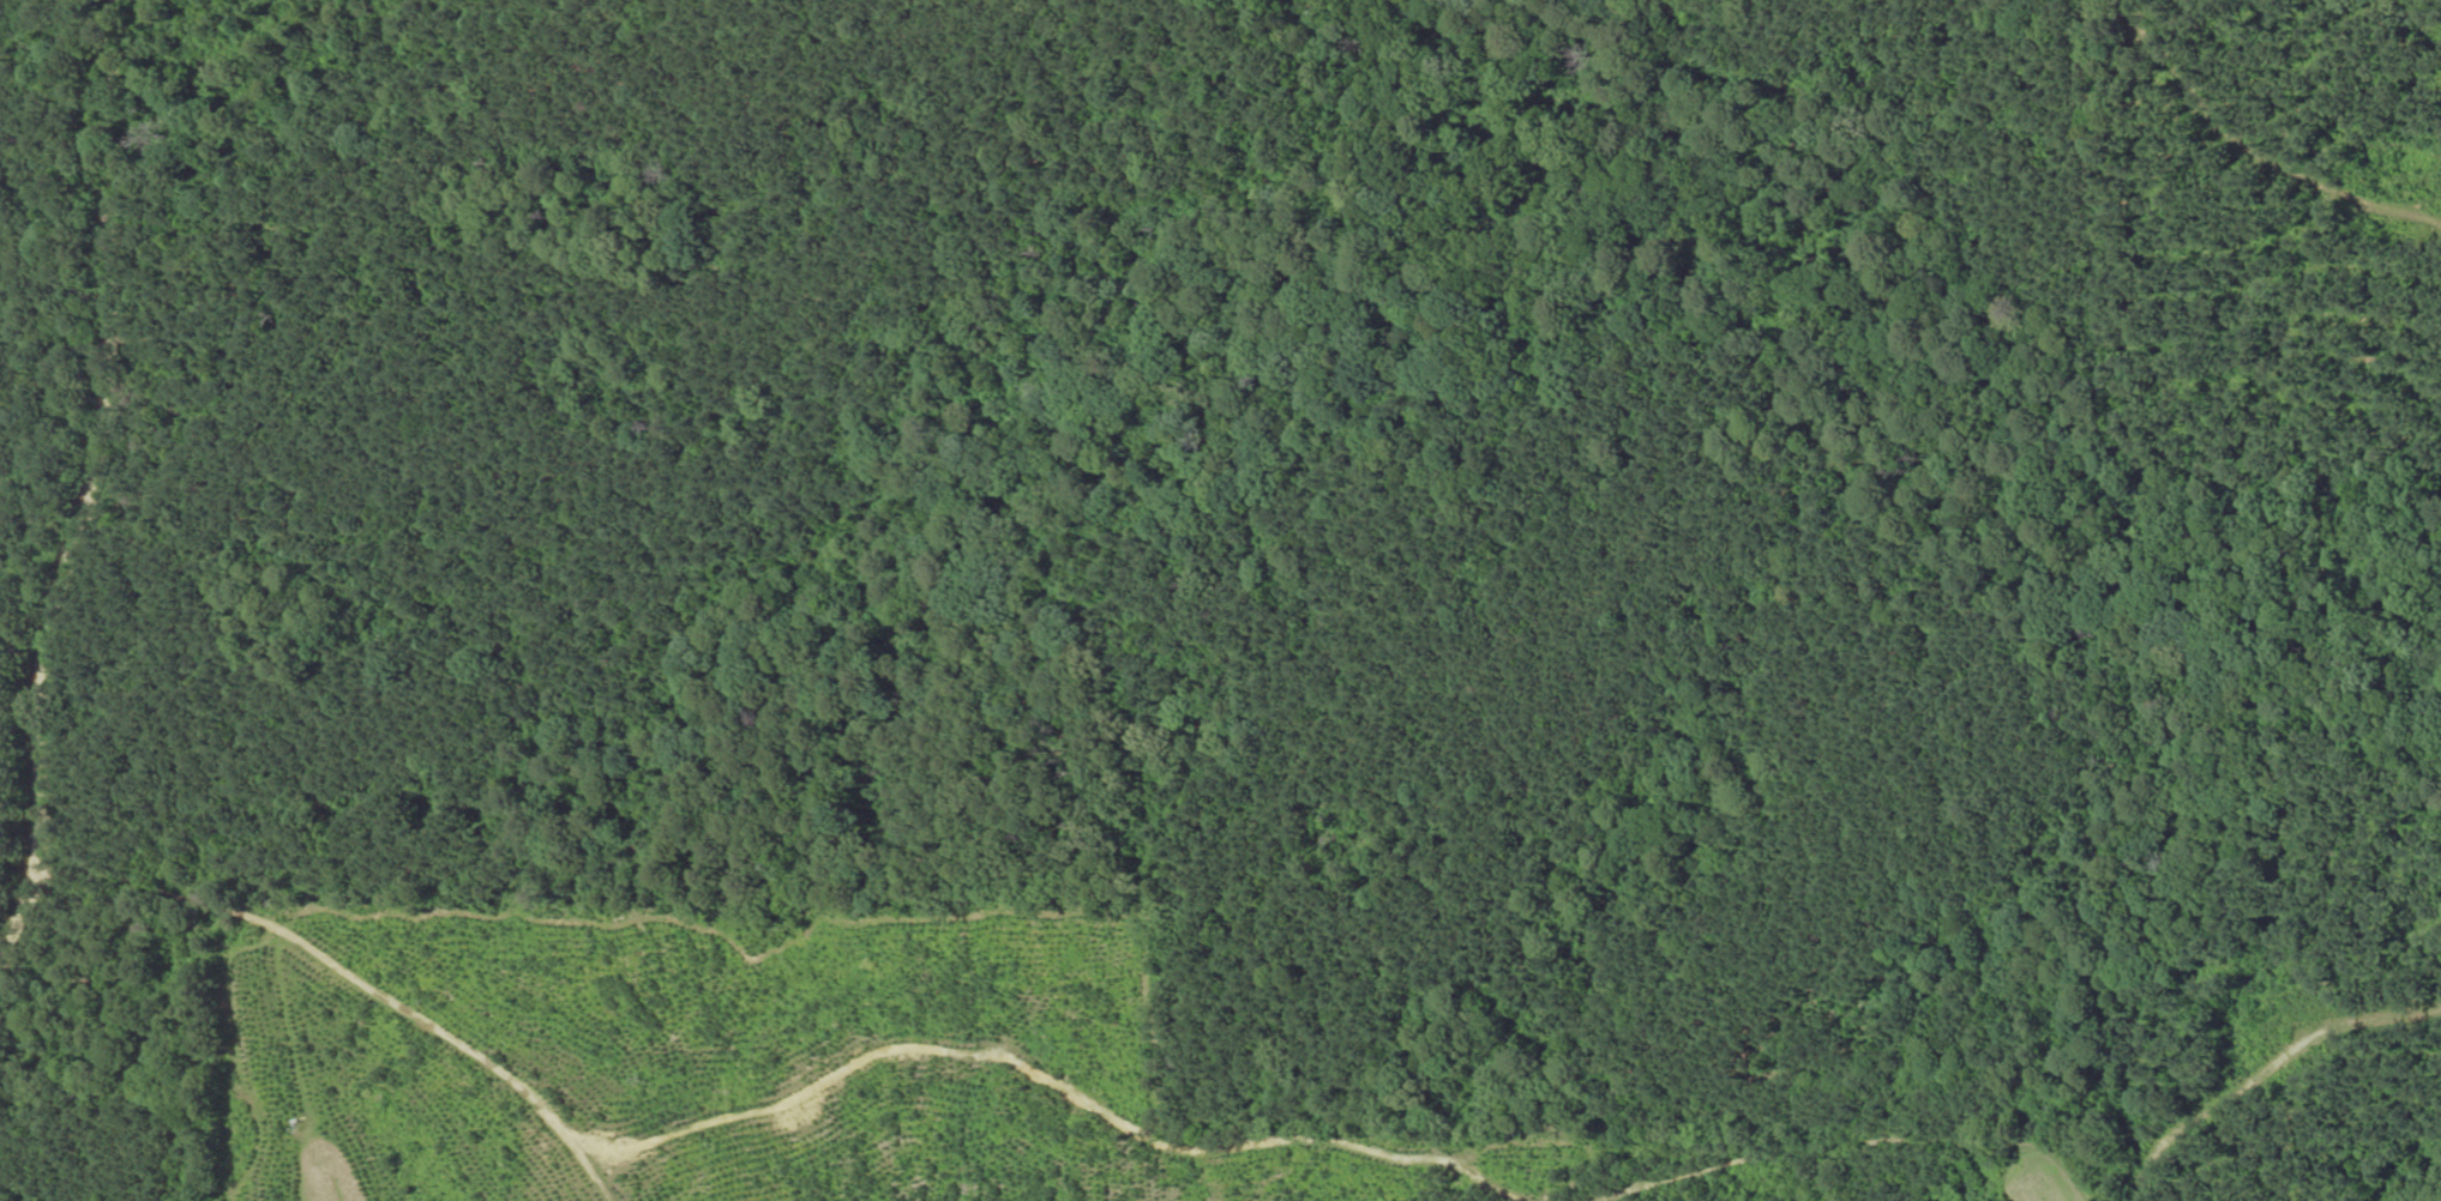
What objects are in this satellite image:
road: (102, 479)
road: (345, 998)

